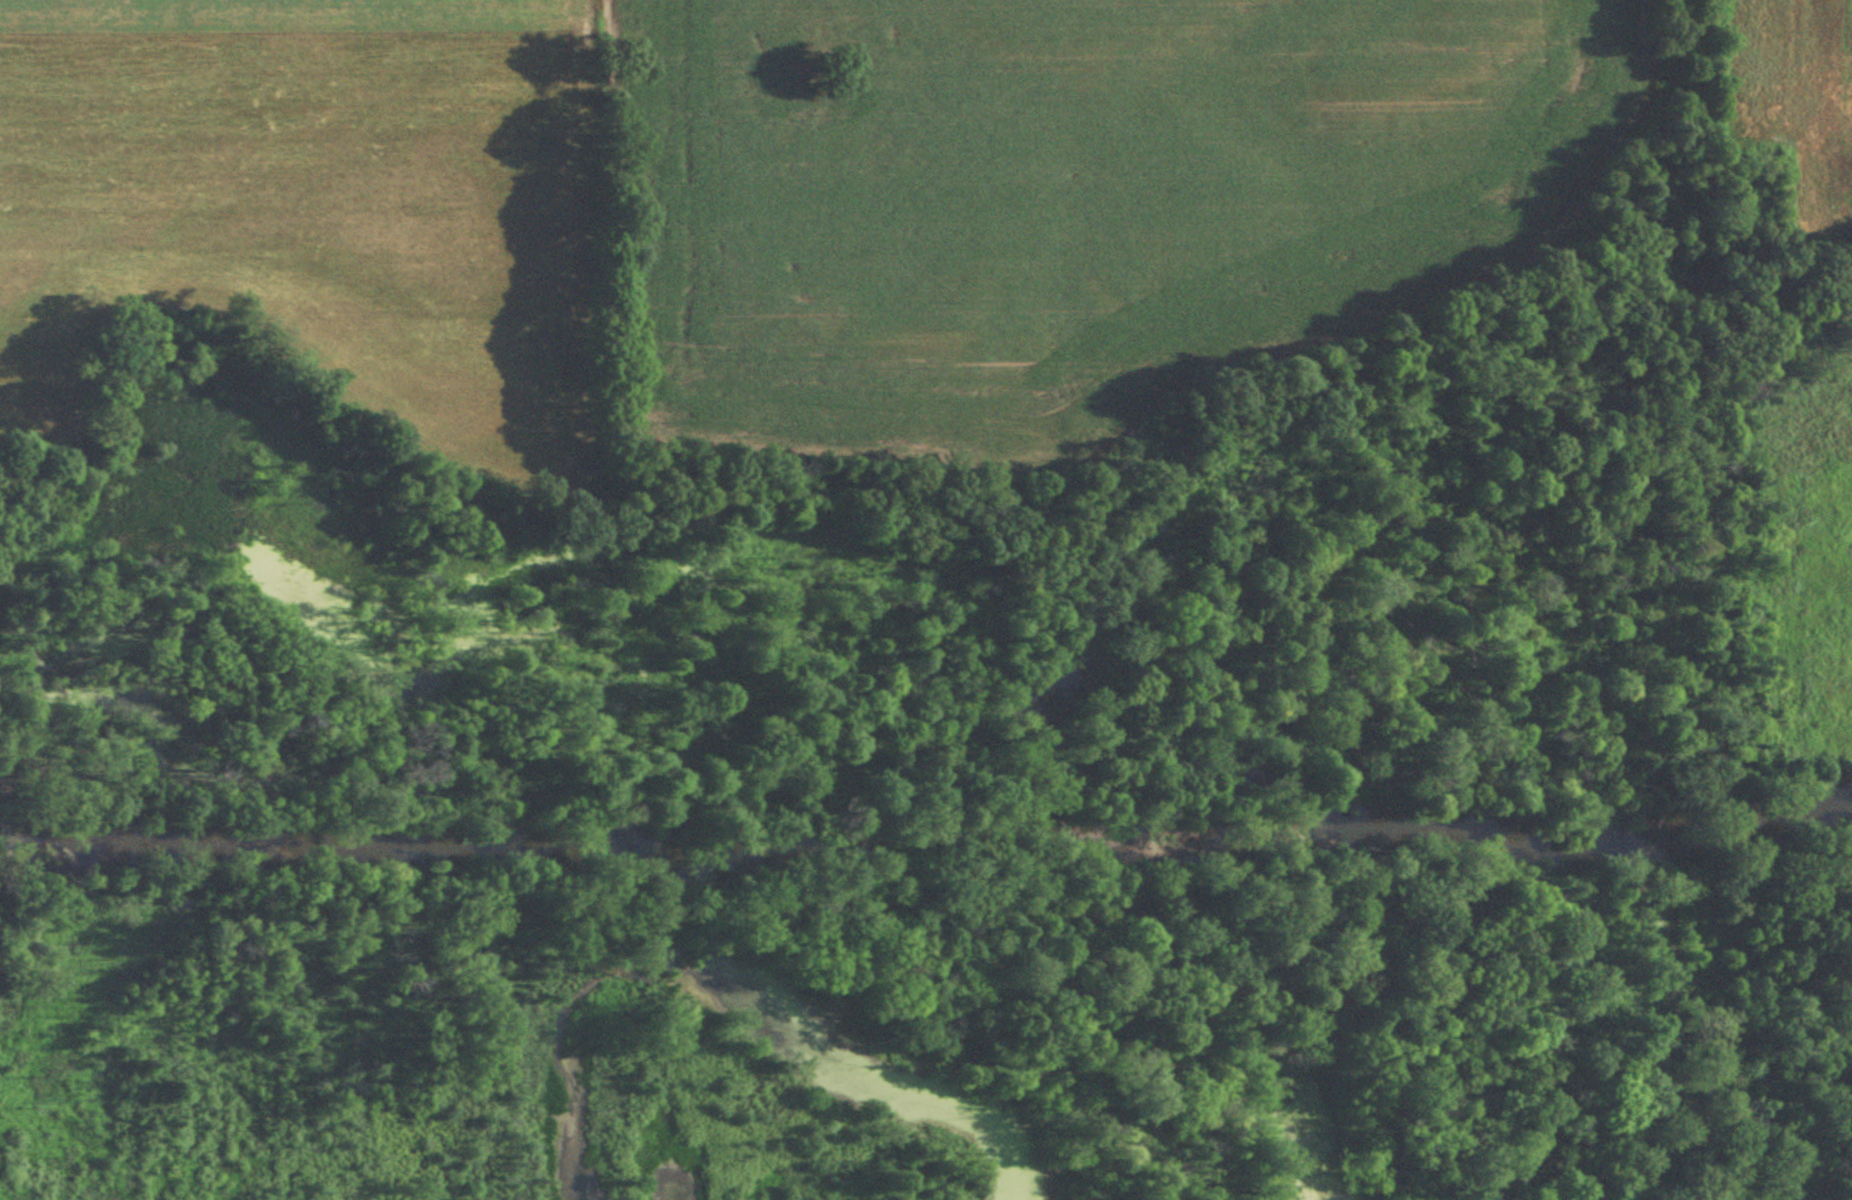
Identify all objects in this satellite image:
river: (926, 837)

